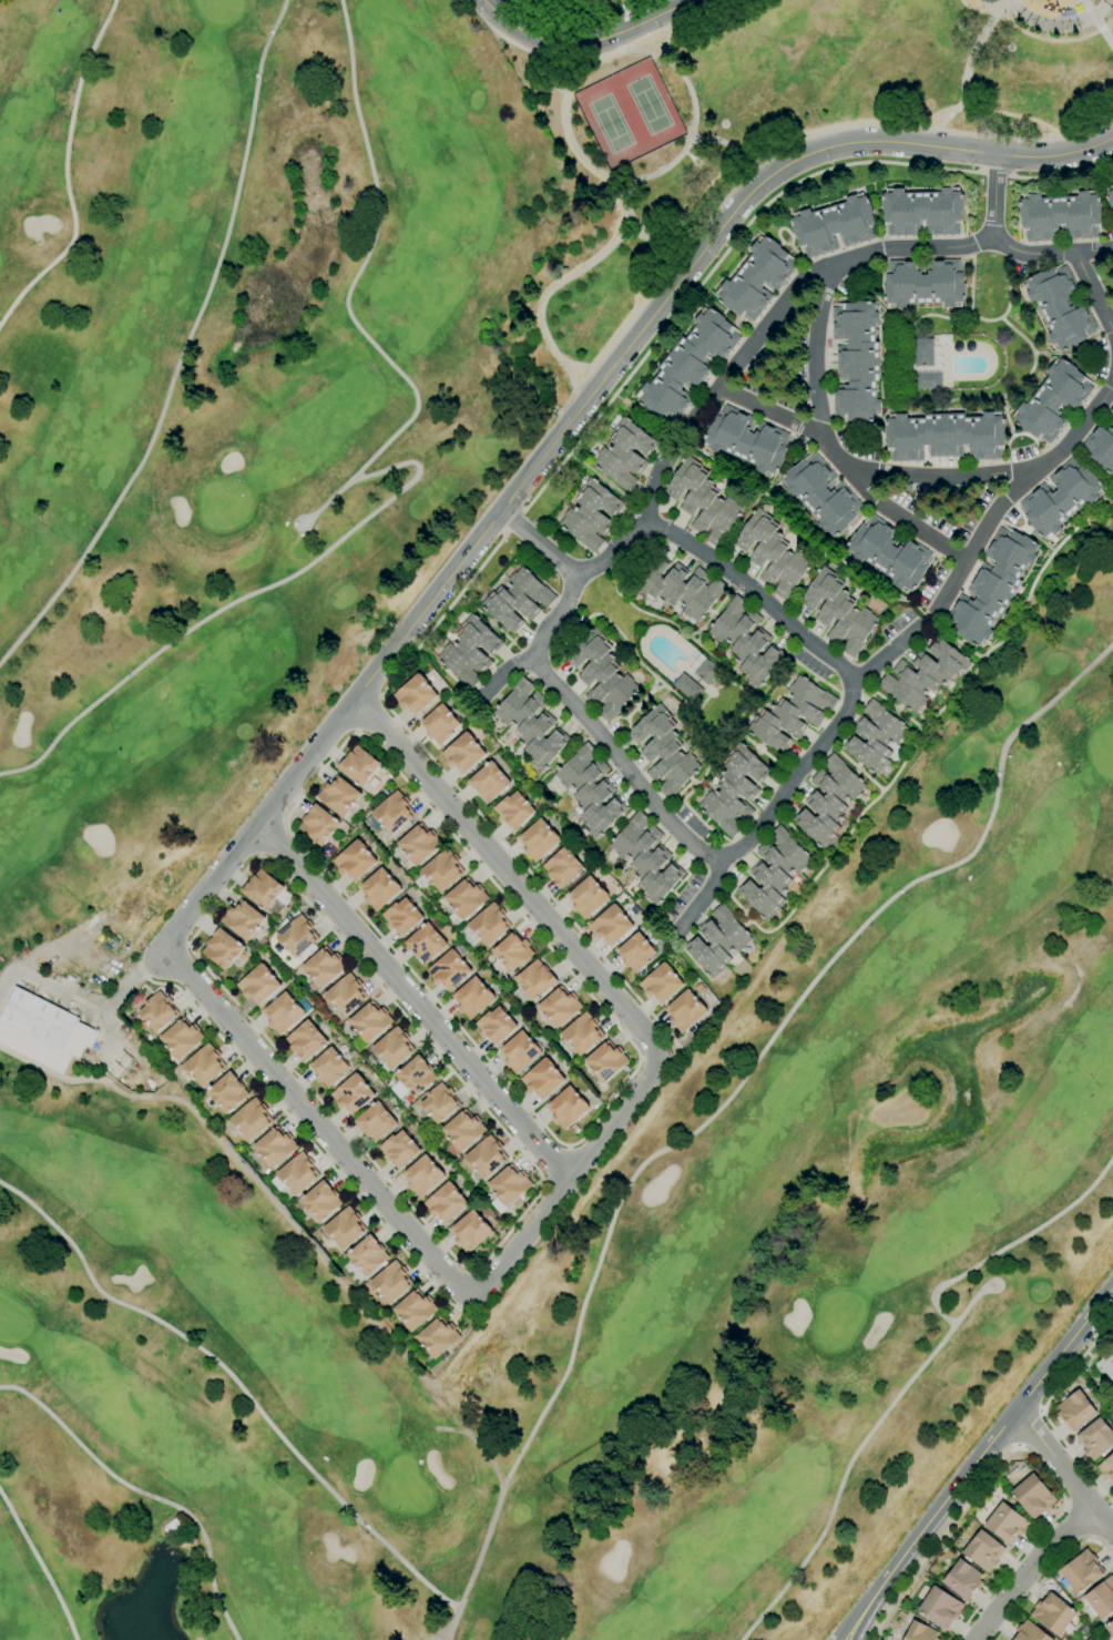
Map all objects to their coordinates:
building: (549, 2)
road: (971, 16)
road: (1095, 26)
road: (1056, 27)
road: (576, 28)
road: (589, 45)
road: (589, 55)
road: (605, 55)
road: (593, 64)
road: (968, 64)
park: (647, 105)
road: (976, 118)
park: (610, 124)
park: (767, 131)
road: (724, 146)
road: (981, 153)
road: (1012, 157)
road: (63, 170)
road: (994, 172)
road: (1063, 175)
building: (1110, 196)
road: (993, 197)
building: (922, 212)
building: (1060, 216)
building: (834, 226)
road: (785, 241)
road: (688, 246)
road: (1095, 253)
building: (1096, 267)
road: (713, 268)
parking lot: (1104, 277)
road: (563, 278)
parking lot: (852, 278)
building: (756, 279)
road: (1007, 282)
building: (923, 283)
road: (868, 296)
building: (1060, 307)
road: (887, 312)
road: (756, 339)
road: (182, 347)
building: (923, 353)
parking lot: (762, 355)
road: (815, 355)
road: (1079, 356)
parking lot: (1100, 359)
building: (856, 361)
building: (687, 366)
road: (1089, 378)
building: (928, 380)
road: (913, 396)
building: (1052, 401)
road: (768, 412)
building: (1110, 414)
road: (568, 422)
road: (865, 425)
road: (1011, 435)
building: (944, 436)
road: (686, 438)
building: (747, 440)
road: (1033, 441)
building: (1101, 446)
parking lot: (855, 448)
road: (880, 448)
building: (625, 454)
parking lot: (1022, 454)
road: (1089, 466)
road: (377, 471)
road: (651, 487)
building: (821, 495)
building: (1060, 498)
road: (325, 501)
building: (702, 501)
road: (775, 501)
road: (1017, 510)
building: (592, 515)
road: (900, 517)
parking lot: (930, 518)
road: (514, 521)
road: (1022, 530)
road: (976, 538)
road: (538, 542)
parking lot: (634, 553)
building: (889, 553)
building: (772, 554)
parking lot: (931, 584)
building: (991, 587)
building: (677, 588)
building: (518, 600)
road: (715, 609)
building: (838, 612)
road: (661, 619)
road: (927, 621)
parking lot: (897, 624)
parking lot: (564, 632)
road: (954, 639)
building: (746, 642)
building: (469, 651)
road: (889, 651)
road: (631, 652)
parking lot: (813, 665)
building: (704, 670)
road: (780, 670)
building: (600, 674)
building: (923, 674)
road: (509, 676)
road: (819, 682)
building: (687, 687)
building: (415, 695)
road: (380, 696)
road: (644, 701)
road: (888, 704)
road: (747, 712)
road: (367, 713)
building: (792, 714)
building: (531, 724)
road: (627, 724)
building: (439, 725)
parking lot: (615, 730)
road: (356, 732)
building: (874, 736)
road: (913, 737)
park: (147, 750)
building: (663, 752)
building: (463, 753)
road: (767, 755)
building: (358, 766)
road: (855, 766)
building: (489, 782)
building: (591, 790)
building: (734, 791)
building: (339, 796)
road: (463, 797)
building: (828, 801)
road: (683, 802)
building: (513, 811)
building: (394, 813)
road: (774, 814)
road: (284, 821)
parking lot: (690, 821)
building: (318, 825)
road: (270, 837)
road: (800, 838)
building: (538, 841)
building: (419, 844)
road: (259, 856)
building: (646, 858)
building: (355, 860)
building: (563, 867)
building: (442, 870)
building: (773, 873)
building: (262, 889)
building: (379, 889)
building: (466, 898)
building: (588, 898)
road: (704, 899)
parking lot: (680, 900)
building: (402, 917)
building: (243, 920)
building: (489, 925)
building: (610, 925)
building: (296, 936)
building: (717, 941)
building: (426, 943)
building: (222, 948)
building: (512, 951)
building: (635, 953)
building: (323, 967)
building: (448, 971)
building: (535, 980)
building: (259, 982)
building: (661, 984)
building: (700, 989)
road: (607, 990)
building: (345, 995)
building: (472, 998)
road: (411, 1000)
road: (83, 1001)
building: (559, 1007)
building: (684, 1011)
building: (157, 1012)
building: (284, 1012)
building: (370, 1021)
building: (494, 1026)
building: (42, 1031)
building: (582, 1032)
building: (182, 1038)
building: (305, 1040)
building: (392, 1047)
building: (519, 1052)
road: (672, 1053)
road: (656, 1057)
road: (641, 1059)
building: (606, 1061)
building: (204, 1066)
building: (329, 1067)
building: (413, 1078)
building: (541, 1079)
building: (227, 1093)
building: (351, 1093)
building: (439, 1102)
building: (566, 1108)
building: (251, 1120)
building: (375, 1121)
road: (317, 1125)
building: (463, 1130)
road: (307, 1139)
road: (569, 1144)
building: (275, 1148)
road: (569, 1148)
building: (398, 1149)
building: (486, 1157)
road: (558, 1165)
building: (298, 1174)
building: (422, 1175)
road: (544, 1182)
building: (509, 1184)
building: (320, 1201)
building: (446, 1202)
building: (345, 1229)
building: (470, 1231)
building: (367, 1255)
road: (472, 1269)
building: (391, 1283)
road: (969, 1302)
building: (415, 1310)
building: (438, 1337)
road: (572, 1344)
road: (1063, 1347)
building: (1106, 1365)
road: (916, 1368)
building: (1075, 1410)
road: (1042, 1412)
road: (1028, 1429)
building: (1095, 1438)
road: (477, 1442)
road: (1021, 1448)
road: (1054, 1459)
building: (1106, 1468)
road: (143, 1495)
building: (1033, 1496)
road: (1066, 1504)
road: (1080, 1519)
road: (1104, 1521)
road: (927, 1522)
building: (1005, 1524)
building: (170, 1526)
road: (1092, 1539)
building: (983, 1551)
road: (41, 1567)
road: (1030, 1569)
building: (1081, 1571)
road: (1048, 1573)
building: (962, 1580)
building: (1101, 1598)
building: (940, 1608)
building: (1053, 1614)
road: (449, 1623)
building: (1110, 1628)
building: (920, 1632)
building: (1029, 1632)
building: (1080, 1639)
building: (1090, 1639)

